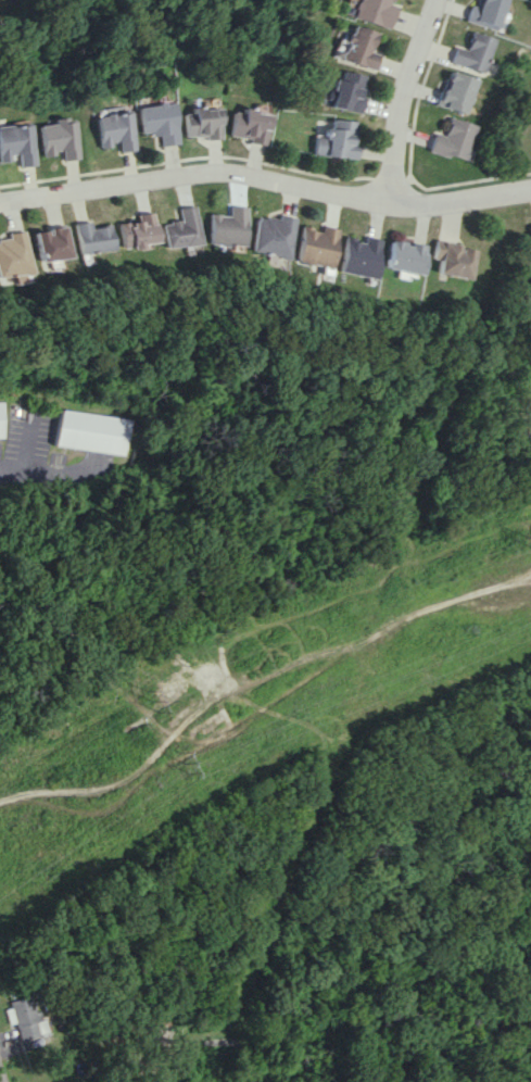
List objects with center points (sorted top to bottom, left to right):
building: (372, 12)
building: (483, 12)
building: (358, 47)
building: (472, 52)
building: (349, 91)
building: (456, 91)
road: (403, 100)
building: (162, 121)
building: (205, 123)
building: (253, 125)
building: (118, 130)
building: (61, 137)
building: (455, 139)
building: (340, 140)
building: (18, 143)
road: (266, 179)
building: (230, 227)
building: (184, 229)
building: (139, 231)
building: (275, 236)
building: (93, 237)
building: (530, 240)
building: (51, 243)
building: (316, 246)
building: (14, 254)
building: (358, 256)
building: (403, 257)
building: (451, 259)
building: (1, 420)
building: (92, 431)
road: (29, 452)
power tower: (147, 699)
power tower: (179, 758)
building: (26, 1017)
road: (2, 1074)

